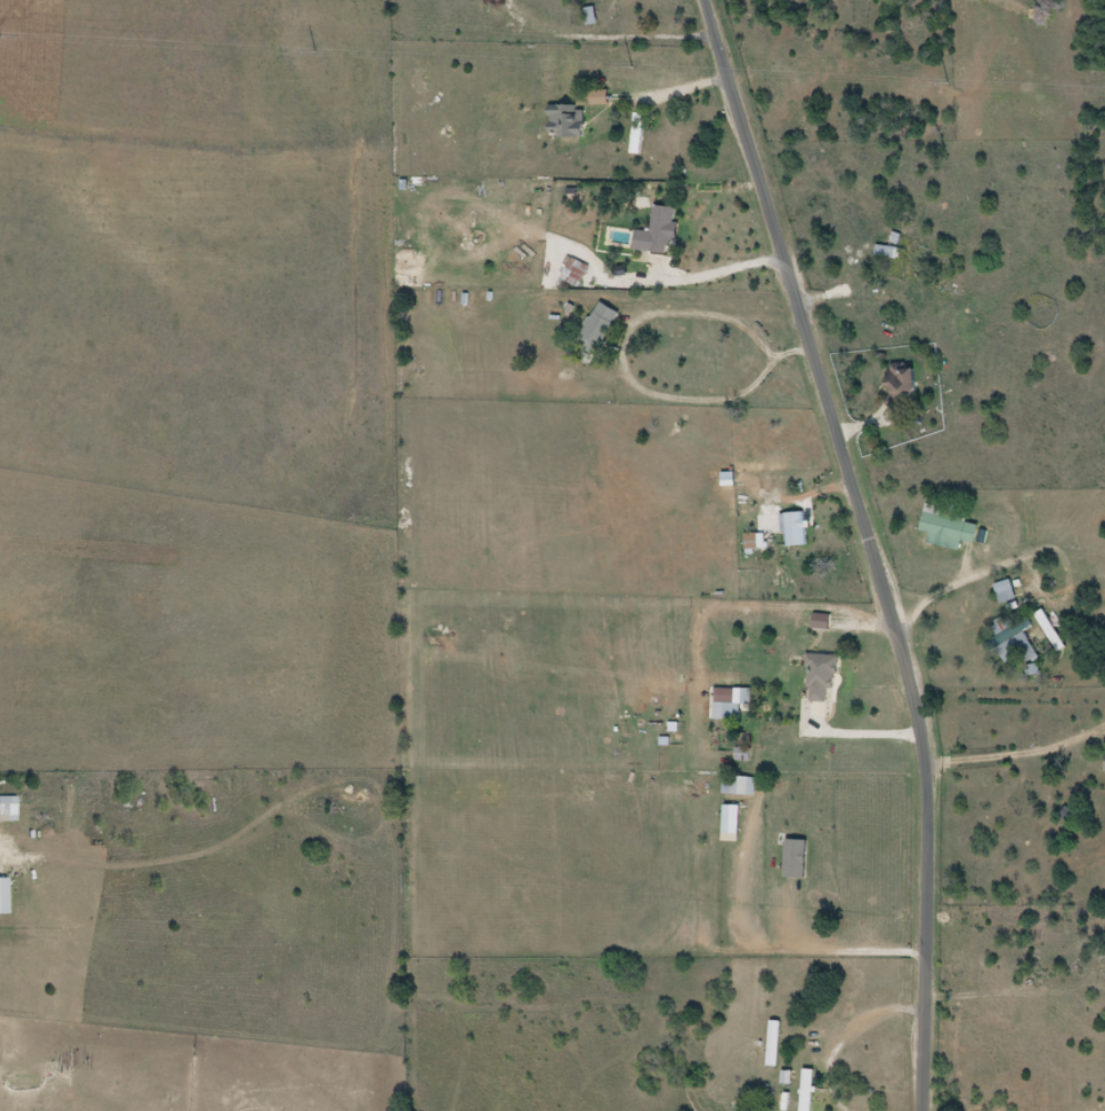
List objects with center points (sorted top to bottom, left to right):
power tower: (0, 36)
power tower: (315, 52)
power tower: (632, 67)
power tower: (947, 82)
building: (640, 133)
building: (666, 229)
building: (891, 248)
building: (578, 273)
road: (704, 279)
building: (599, 329)
building: (905, 384)
building: (952, 528)
road: (869, 546)
road: (1006, 592)
building: (1006, 593)
building: (1017, 640)
building: (822, 676)
building: (734, 704)
road: (868, 735)
building: (741, 786)
building: (8, 805)
road: (790, 952)
road: (848, 1038)
building: (810, 1090)

